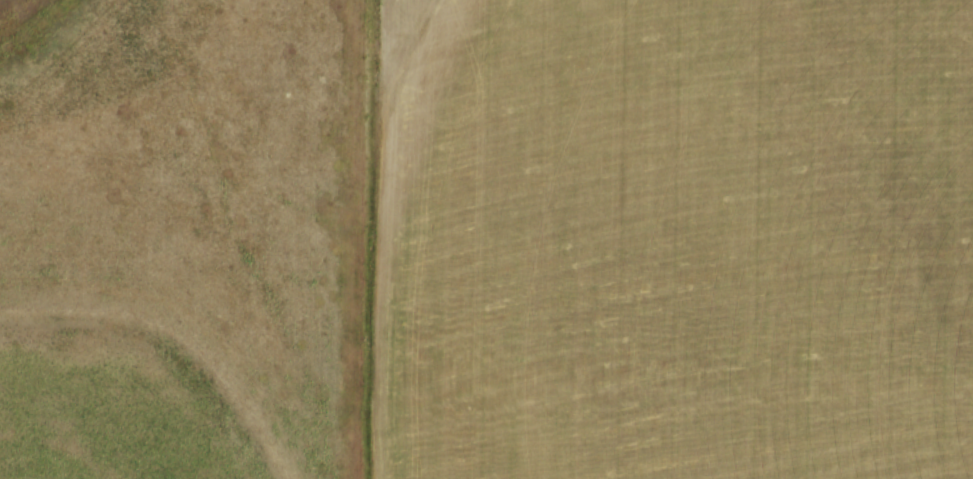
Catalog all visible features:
crop: (674, 239)

